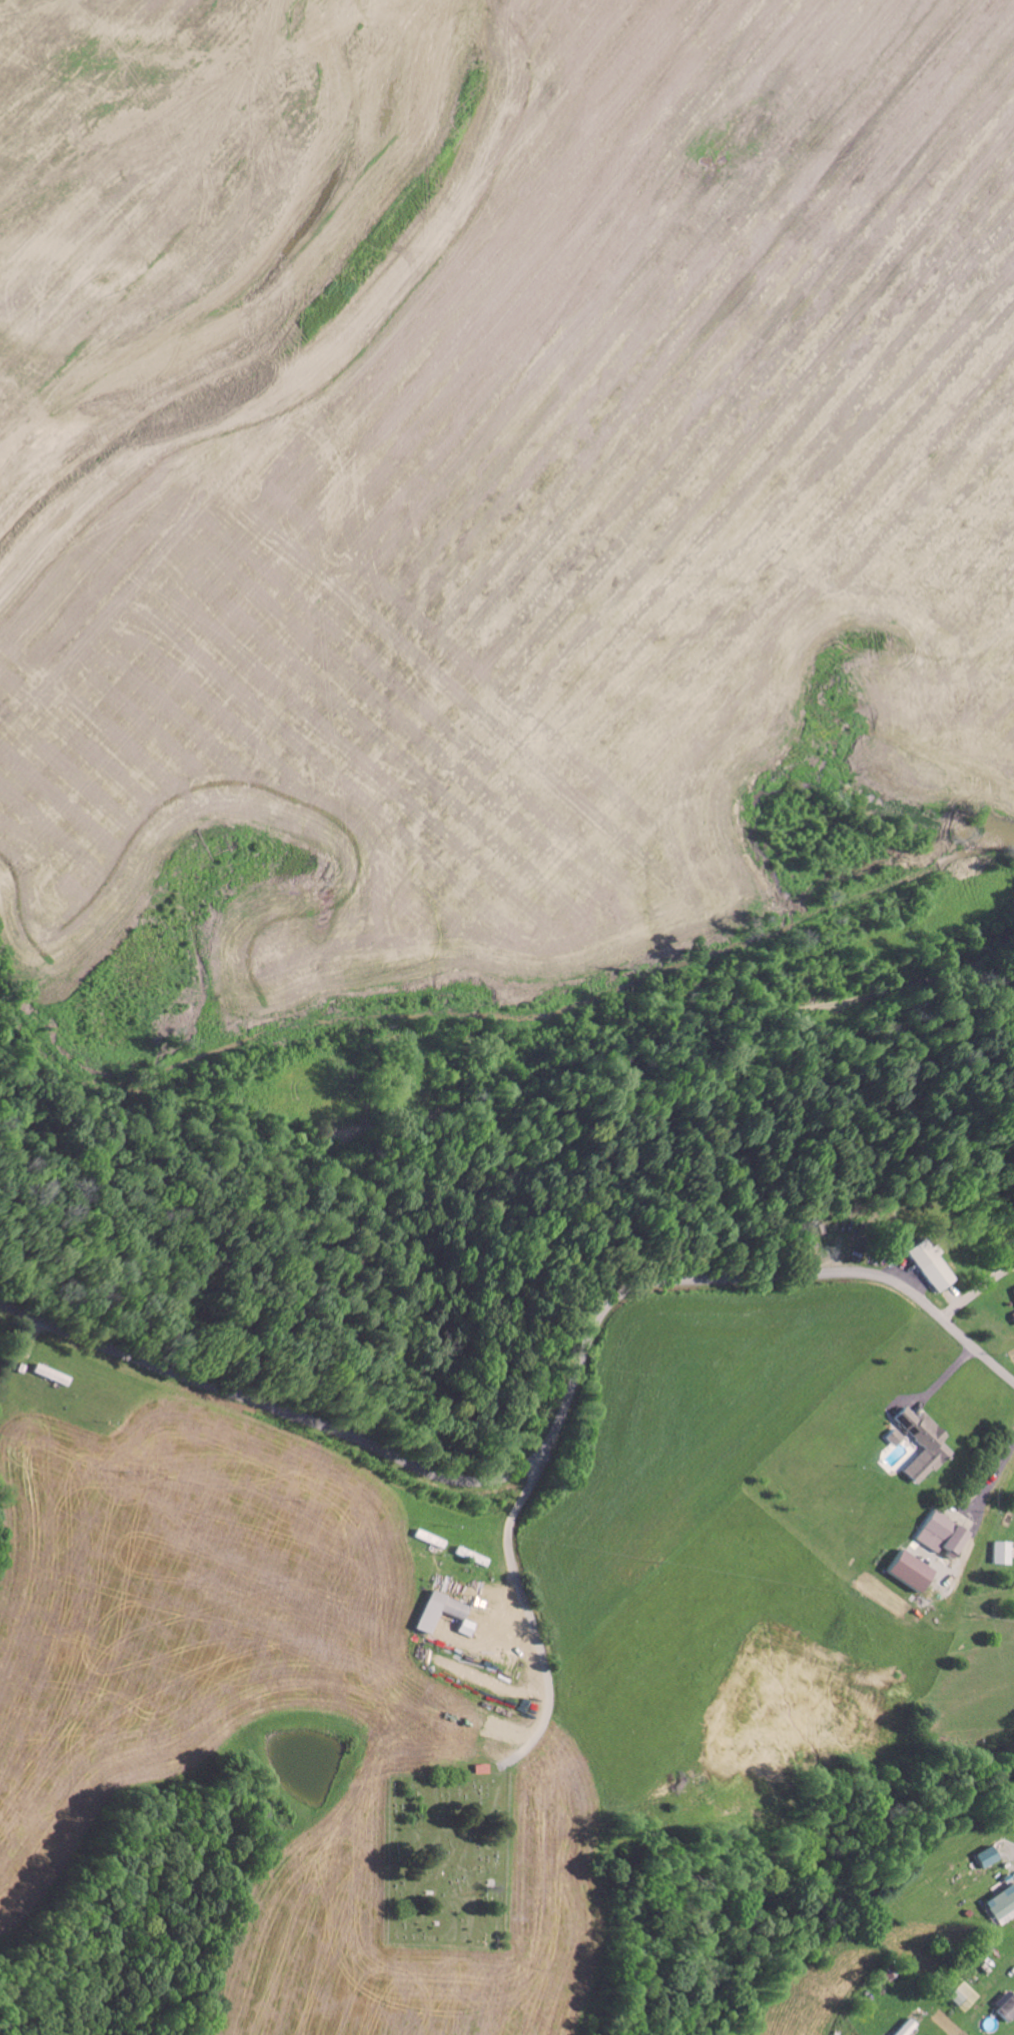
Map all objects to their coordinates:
road: (511, 1082)
building: (926, 1264)
building: (1012, 1291)
building: (1012, 1316)
building: (893, 1437)
road: (549, 1440)
building: (921, 1444)
building: (938, 1533)
building: (998, 1553)
building: (905, 1571)
building: (434, 1611)
road: (528, 1616)
building: (461, 1627)
building: (984, 1857)
park: (446, 1858)
building: (1000, 1904)
building: (951, 1997)
building: (902, 2027)

